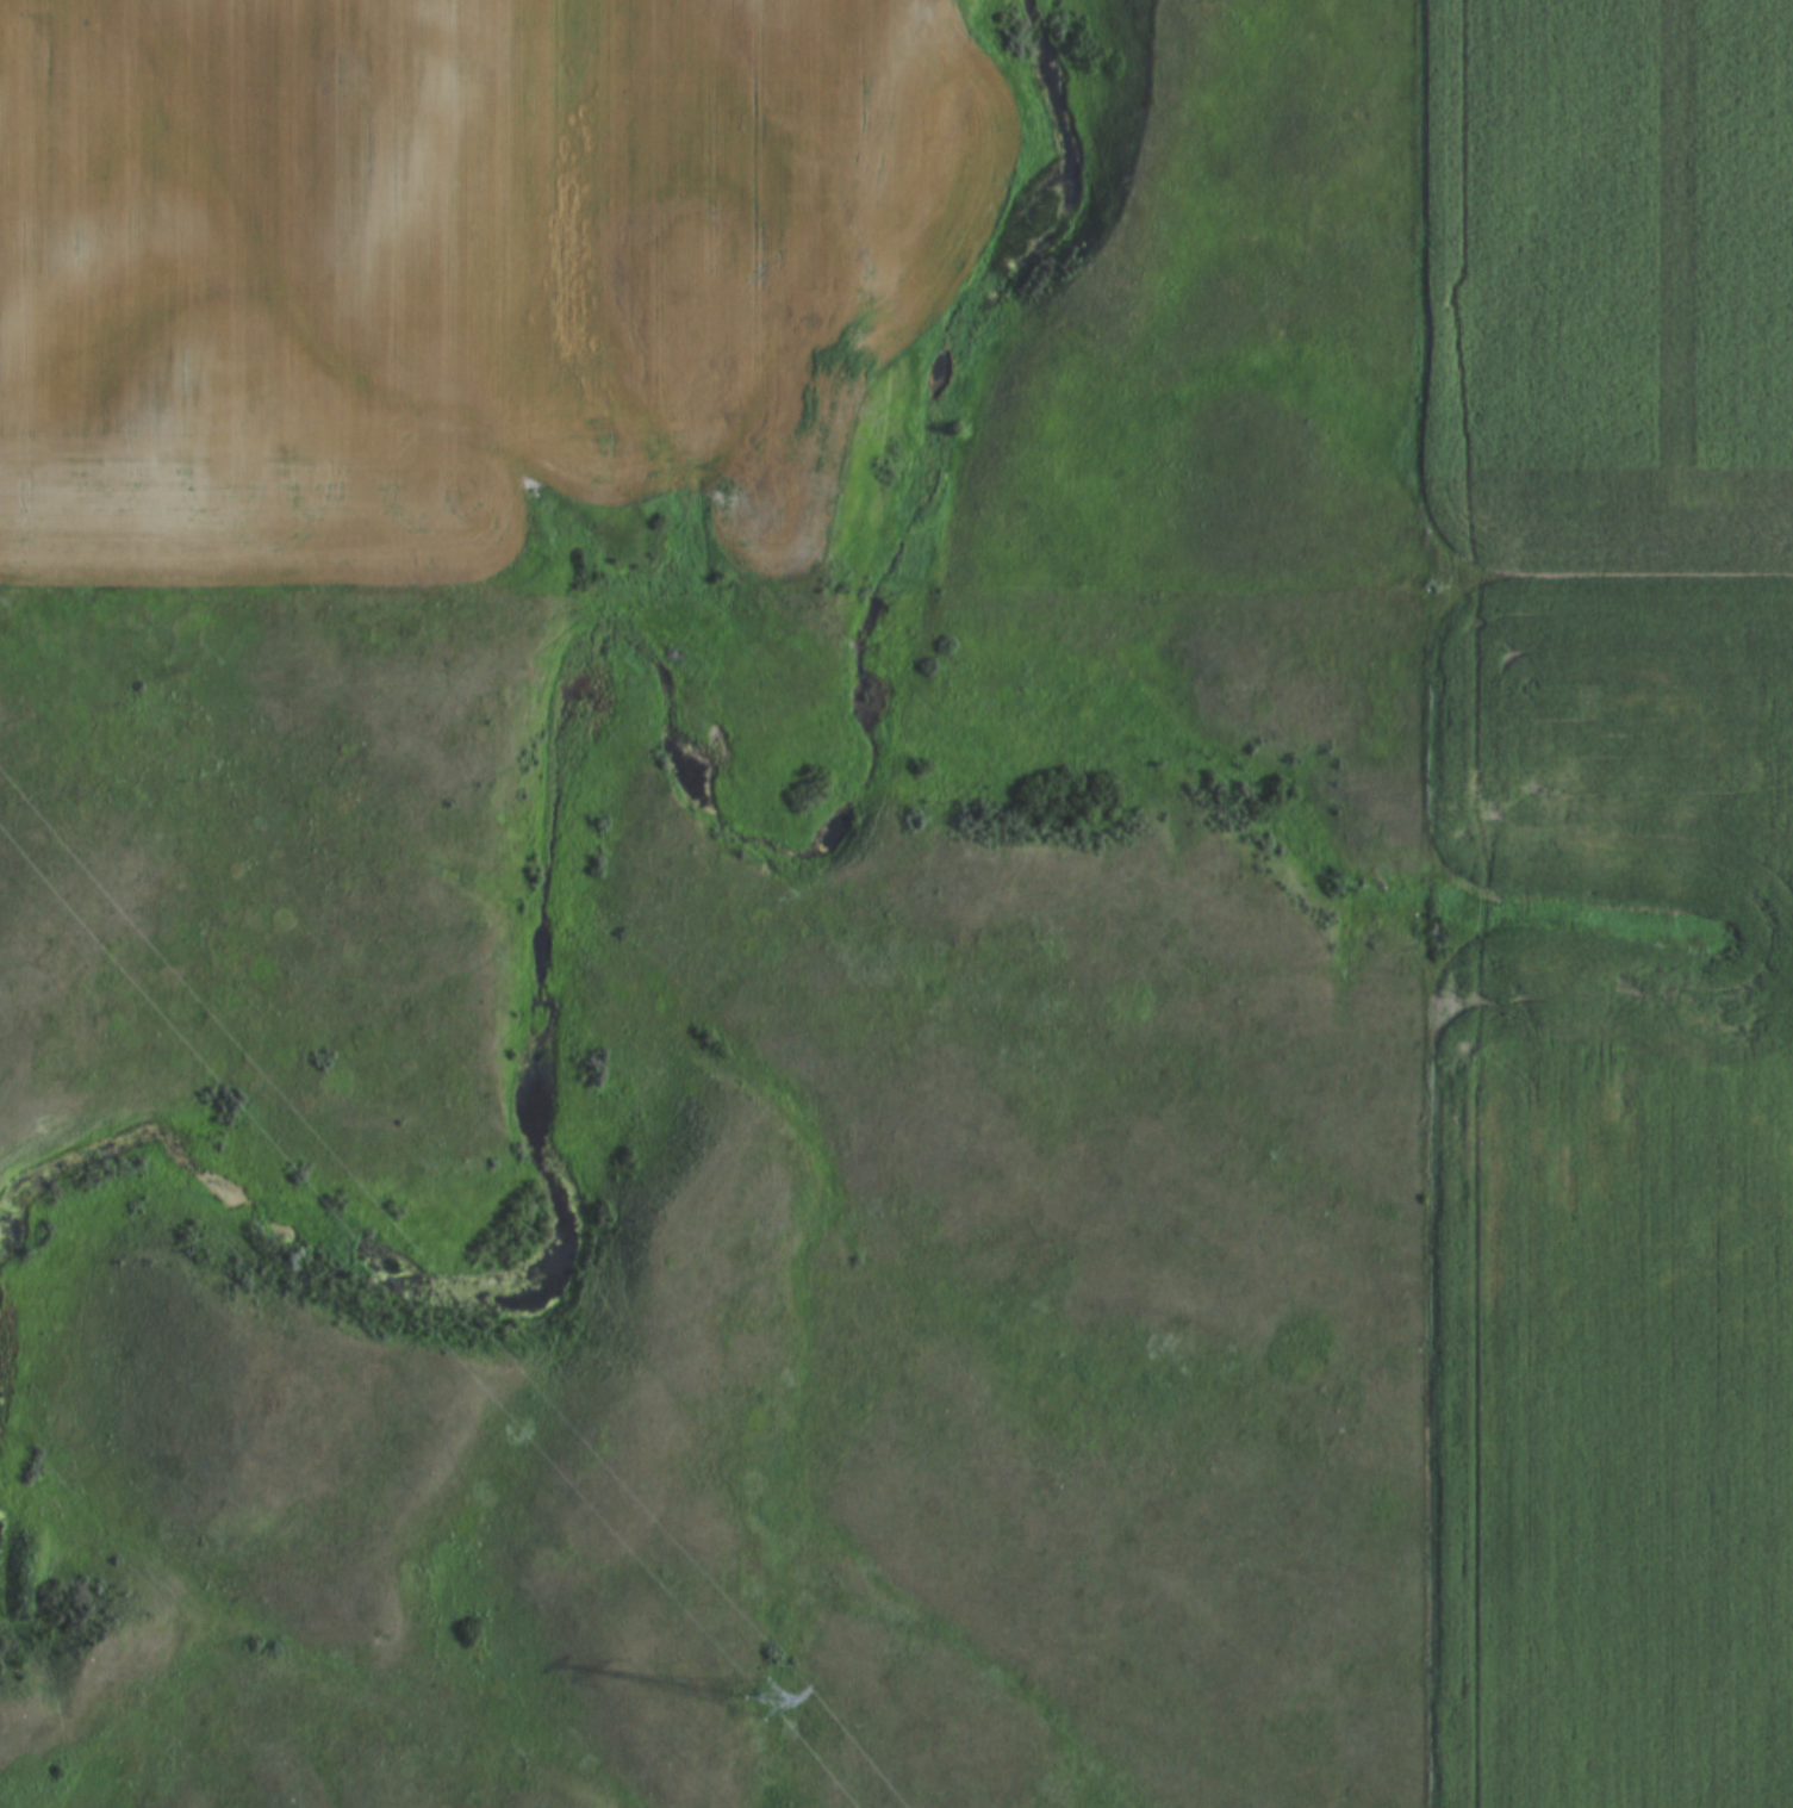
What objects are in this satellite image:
power tower: (765, 1707)

